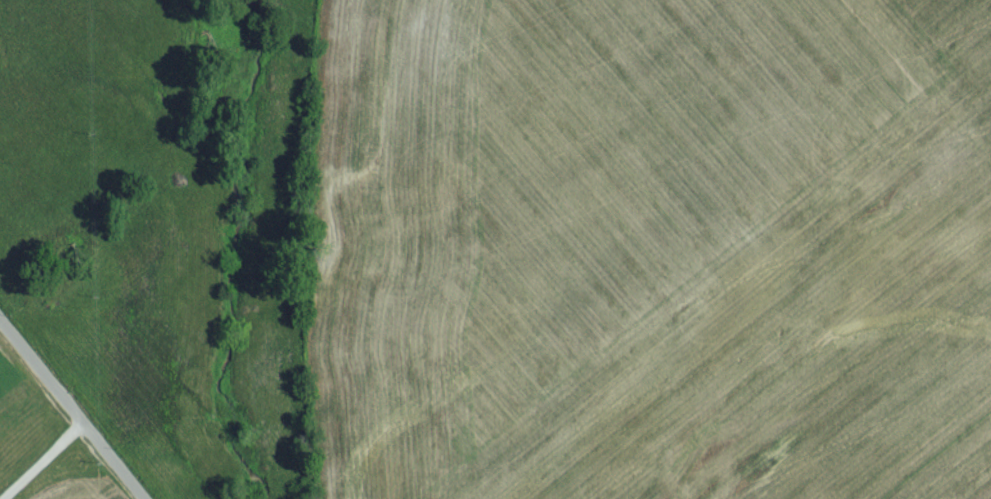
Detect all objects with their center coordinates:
road: (67, 414)
road: (42, 464)

